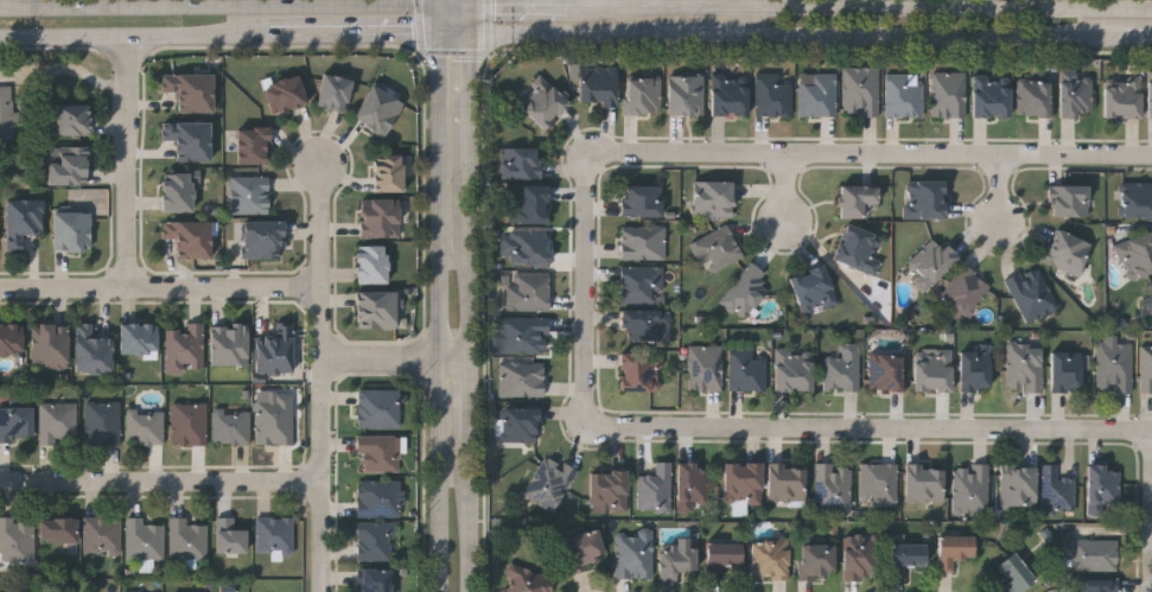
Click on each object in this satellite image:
road: (440, 2)
road: (471, 2)
traffic signals: (440, 5)
road: (456, 5)
traffic signals: (471, 6)
road: (522, 6)
road: (219, 7)
road: (861, 7)
road: (749, 18)
road: (440, 19)
road: (471, 19)
road: (421, 26)
road: (490, 26)
traffic signals: (440, 34)
traffic signals: (472, 34)
road: (357, 36)
road: (136, 37)
road: (795, 37)
road: (457, 52)
building: (598, 84)
building: (191, 90)
building: (861, 90)
building: (335, 91)
building: (286, 94)
building: (644, 94)
building: (687, 94)
building: (950, 94)
building: (1076, 94)
building: (1150, 94)
building: (730, 95)
building: (774, 95)
building: (819, 95)
building: (903, 95)
building: (992, 96)
building: (1036, 97)
building: (1124, 97)
building: (543, 102)
road: (472, 104)
building: (378, 110)
building: (6, 113)
building: (72, 119)
building: (189, 139)
building: (253, 145)
road: (874, 153)
road: (131, 163)
building: (521, 163)
building: (71, 165)
building: (388, 173)
road: (794, 190)
road: (1001, 190)
building: (178, 191)
building: (250, 193)
building: (714, 198)
building: (860, 199)
building: (925, 199)
building: (1138, 199)
building: (643, 200)
building: (1069, 200)
building: (529, 204)
building: (382, 218)
building: (23, 221)
building: (72, 230)
building: (190, 237)
building: (263, 240)
building: (644, 242)
building: (530, 247)
building: (718, 248)
building: (860, 249)
building: (1068, 252)
building: (1137, 255)
building: (931, 263)
building: (373, 265)
road: (472, 267)
building: (643, 284)
road: (160, 288)
road: (590, 289)
building: (815, 289)
building: (529, 291)
building: (746, 291)
building: (967, 291)
building: (1032, 293)
building: (1150, 300)
building: (376, 308)
road: (440, 313)
road: (322, 323)
building: (645, 325)
building: (524, 335)
building: (11, 338)
building: (139, 338)
building: (230, 343)
building: (50, 345)
building: (186, 346)
building: (93, 349)
building: (275, 349)
road: (396, 358)
building: (707, 367)
building: (1026, 367)
building: (1115, 367)
building: (1146, 368)
building: (844, 369)
building: (747, 370)
building: (794, 370)
building: (934, 370)
building: (976, 370)
building: (1067, 370)
building: (642, 371)
building: (887, 373)
building: (522, 378)
road: (472, 399)
building: (378, 408)
building: (276, 419)
building: (15, 421)
building: (58, 421)
building: (102, 422)
building: (189, 424)
building: (522, 424)
building: (145, 426)
building: (231, 426)
road: (872, 427)
building: (378, 453)
road: (160, 482)
building: (788, 482)
building: (879, 482)
building: (550, 483)
building: (925, 483)
building: (743, 484)
building: (1018, 484)
building: (693, 485)
building: (834, 486)
building: (1102, 486)
building: (656, 488)
building: (972, 488)
building: (610, 490)
building: (1057, 491)
building: (377, 497)
road: (472, 515)
building: (58, 528)
building: (230, 533)
building: (101, 534)
building: (275, 534)
road: (323, 537)
building: (145, 539)
building: (187, 539)
building: (17, 540)
building: (375, 541)
building: (584, 549)
building: (954, 549)
building: (635, 553)
building: (1095, 554)
building: (723, 555)
building: (863, 555)
building: (676, 556)
building: (770, 558)
building: (906, 558)
building: (817, 559)
building: (1016, 573)
building: (375, 580)
building: (528, 581)
building: (1099, 585)
building: (136, 591)

